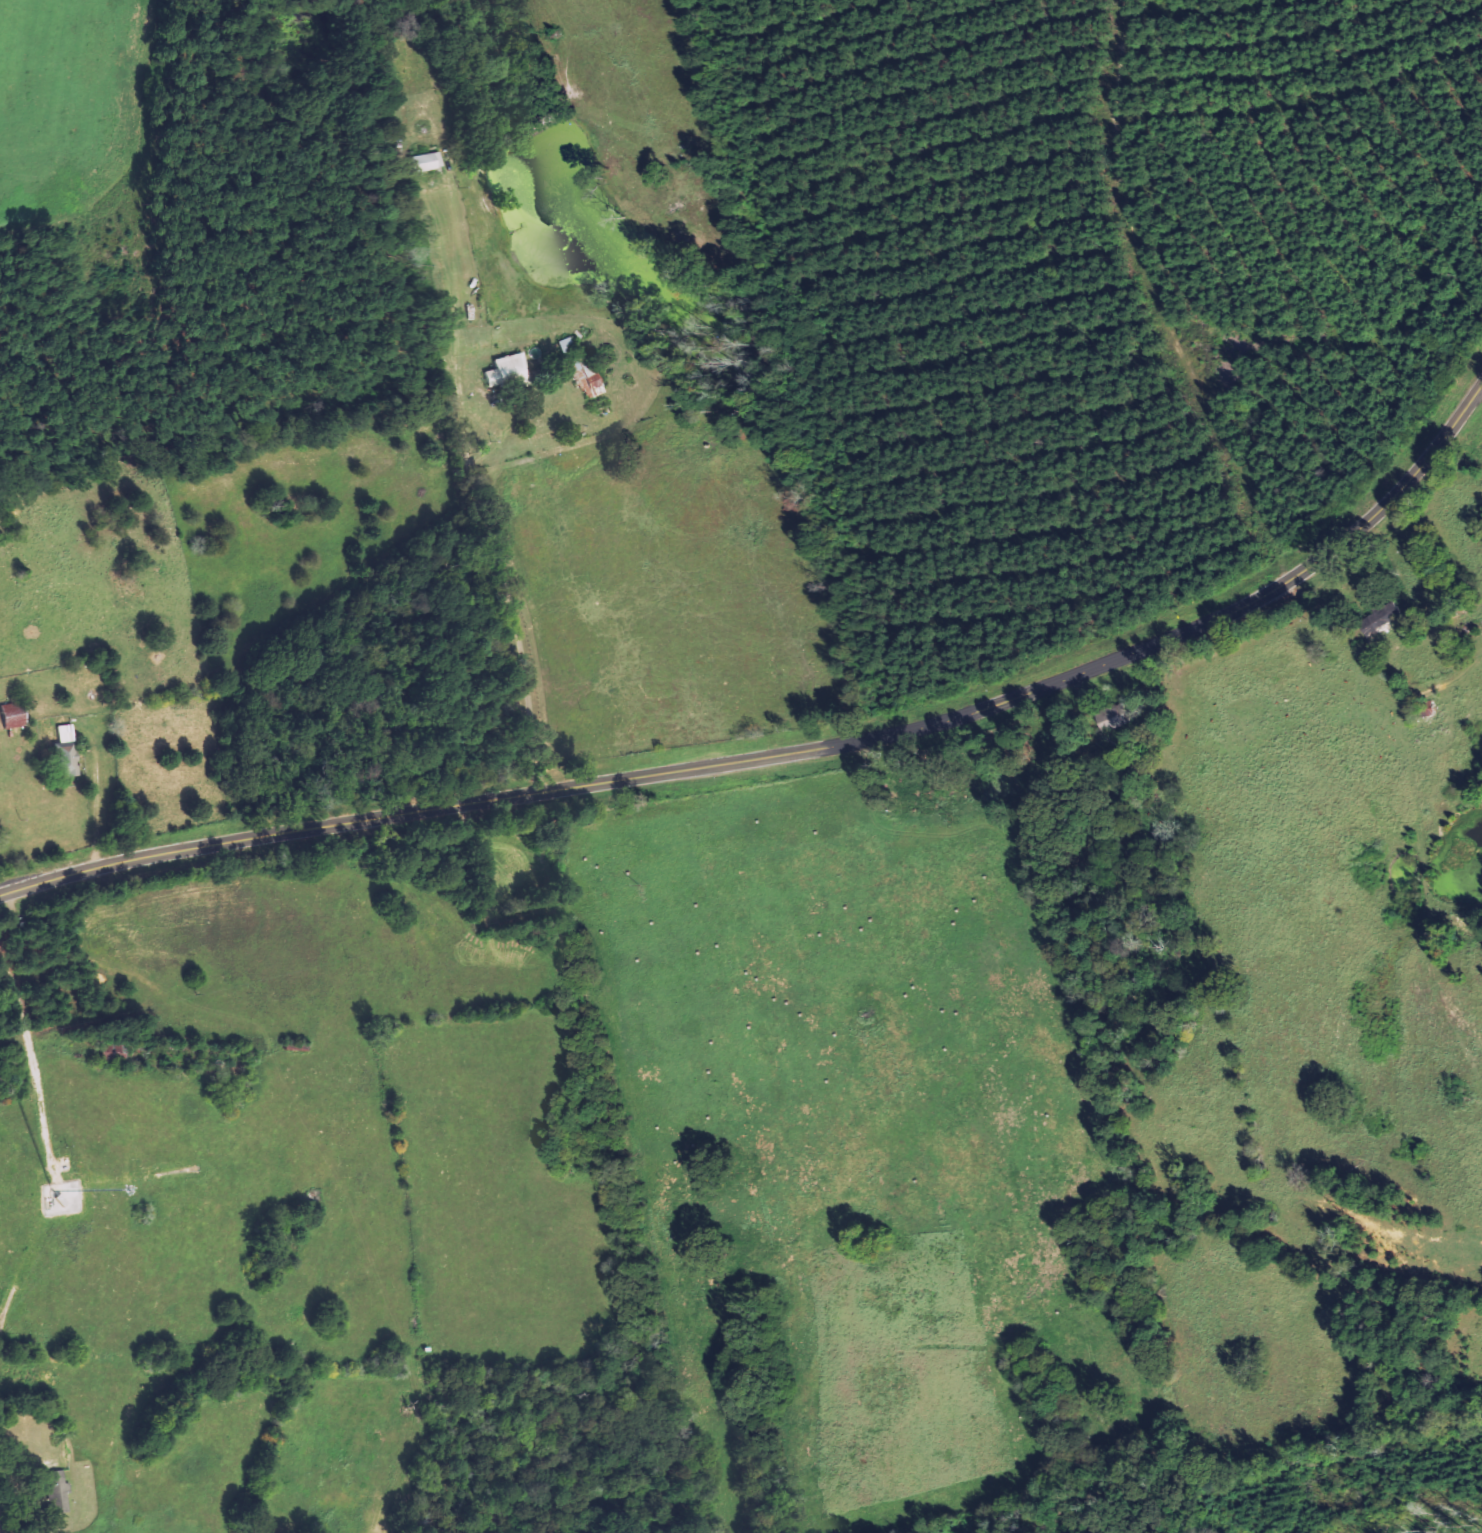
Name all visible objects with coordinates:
building: (435, 162)
building: (511, 372)
building: (595, 385)
building: (1387, 616)
building: (18, 715)
building: (69, 732)
road: (791, 752)
building: (60, 1483)

